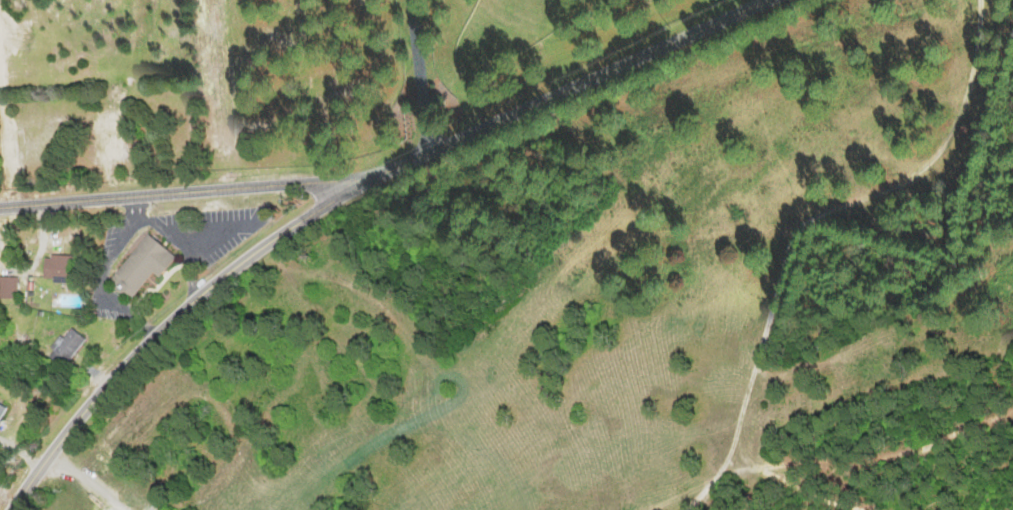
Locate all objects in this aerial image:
road: (415, 74)
road: (562, 89)
building: (101, 136)
road: (180, 195)
building: (52, 265)
building: (138, 265)
building: (6, 284)
road: (164, 322)
building: (64, 345)
building: (1, 408)
road: (88, 479)

